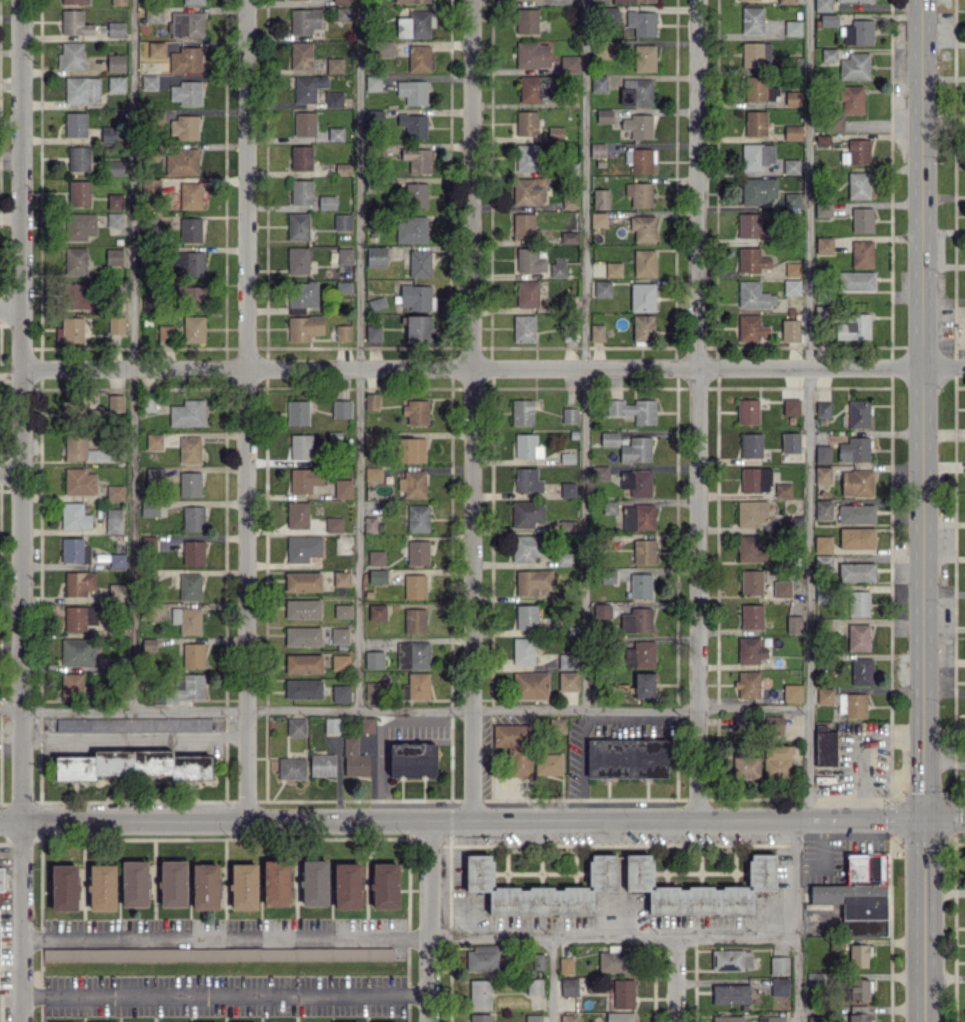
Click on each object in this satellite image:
building: (750, 0)
building: (856, 0)
building: (74, 1)
building: (193, 1)
building: (411, 1)
building: (631, 1)
building: (787, 1)
building: (118, 2)
building: (341, 2)
building: (822, 5)
building: (342, 14)
building: (752, 19)
building: (306, 20)
building: (526, 20)
building: (828, 20)
building: (74, 22)
building: (642, 22)
building: (186, 24)
building: (415, 24)
building: (792, 27)
building: (115, 29)
building: (858, 32)
building: (385, 48)
building: (151, 49)
building: (606, 49)
building: (755, 54)
building: (301, 55)
building: (532, 55)
building: (70, 56)
building: (645, 57)
building: (419, 58)
building: (185, 60)
building: (116, 62)
building: (569, 63)
building: (334, 65)
building: (854, 66)
building: (147, 82)
building: (372, 83)
building: (599, 83)
building: (116, 84)
building: (308, 88)
building: (534, 88)
building: (82, 89)
building: (759, 89)
building: (412, 91)
building: (636, 91)
building: (187, 93)
building: (793, 98)
building: (333, 99)
building: (847, 106)
building: (603, 116)
building: (755, 122)
building: (304, 123)
building: (527, 123)
building: (75, 124)
building: (413, 125)
building: (638, 126)
building: (183, 127)
building: (793, 132)
building: (555, 133)
building: (109, 134)
building: (335, 134)
building: (597, 150)
building: (858, 151)
building: (757, 155)
building: (301, 157)
building: (527, 157)
building: (78, 158)
building: (417, 159)
building: (640, 159)
building: (181, 161)
building: (791, 166)
building: (114, 168)
building: (859, 185)
building: (758, 190)
building: (301, 191)
building: (529, 191)
building: (78, 192)
building: (639, 194)
building: (190, 195)
building: (415, 195)
building: (600, 198)
building: (791, 199)
building: (114, 201)
building: (327, 202)
building: (823, 209)
building: (114, 219)
building: (598, 219)
building: (862, 219)
building: (342, 222)
building: (524, 225)
building: (79, 226)
building: (298, 226)
building: (752, 226)
building: (643, 228)
building: (190, 229)
building: (411, 229)
building: (824, 245)
building: (862, 253)
building: (114, 256)
building: (376, 256)
building: (752, 259)
building: (298, 260)
building: (530, 260)
building: (75, 261)
building: (345, 261)
building: (645, 262)
building: (187, 263)
building: (419, 263)
building: (557, 268)
building: (613, 268)
building: (792, 269)
building: (856, 281)
building: (343, 287)
building: (791, 287)
building: (602, 288)
building: (527, 293)
building: (302, 294)
building: (753, 295)
building: (77, 297)
building: (195, 297)
building: (419, 297)
building: (642, 297)
building: (147, 303)
road: (9, 306)
building: (116, 324)
building: (304, 327)
building: (854, 327)
building: (193, 328)
building: (418, 328)
building: (523, 328)
building: (643, 329)
building: (752, 329)
building: (70, 330)
building: (790, 330)
building: (343, 332)
building: (596, 332)
building: (164, 333)
building: (373, 333)
road: (357, 353)
road: (130, 354)
road: (582, 354)
road: (491, 369)
building: (371, 401)
building: (149, 402)
building: (116, 403)
building: (791, 406)
building: (341, 408)
building: (823, 408)
building: (634, 410)
road: (700, 410)
building: (416, 411)
road: (477, 411)
building: (522, 411)
building: (748, 411)
road: (806, 411)
road: (248, 412)
building: (297, 412)
building: (78, 413)
building: (188, 413)
building: (859, 414)
building: (569, 415)
building: (609, 438)
building: (154, 440)
building: (372, 440)
building: (790, 442)
building: (751, 445)
building: (301, 446)
building: (527, 446)
building: (83, 449)
building: (190, 449)
building: (412, 449)
building: (636, 449)
building: (854, 449)
building: (823, 454)
road: (9, 471)
building: (600, 472)
building: (373, 473)
building: (822, 475)
building: (305, 479)
building: (755, 479)
building: (527, 480)
building: (79, 481)
building: (637, 482)
building: (857, 482)
building: (189, 484)
building: (412, 484)
building: (342, 488)
building: (568, 489)
building: (783, 490)
building: (115, 492)
building: (609, 506)
building: (149, 508)
building: (823, 509)
road: (924, 510)
road: (19, 511)
building: (526, 513)
building: (751, 513)
building: (856, 513)
building: (297, 514)
building: (74, 516)
building: (638, 517)
building: (193, 518)
building: (418, 518)
building: (113, 520)
building: (333, 524)
building: (370, 524)
building: (567, 525)
building: (857, 537)
building: (823, 544)
building: (526, 547)
building: (303, 548)
building: (749, 548)
building: (74, 550)
building: (643, 551)
building: (193, 552)
building: (418, 552)
building: (376, 558)
building: (117, 560)
building: (857, 571)
building: (377, 576)
building: (608, 576)
building: (341, 578)
building: (302, 581)
building: (533, 581)
building: (751, 582)
building: (79, 583)
building: (640, 585)
building: (190, 586)
building: (414, 586)
building: (782, 588)
building: (115, 591)
building: (859, 603)
building: (302, 608)
building: (342, 611)
building: (377, 611)
building: (526, 616)
building: (751, 616)
building: (79, 617)
building: (187, 619)
building: (414, 620)
building: (636, 620)
building: (793, 624)
building: (339, 635)
building: (303, 636)
building: (858, 637)
building: (148, 644)
building: (523, 650)
building: (750, 650)
building: (77, 652)
building: (640, 654)
building: (193, 655)
building: (412, 655)
building: (374, 659)
building: (567, 661)
building: (340, 662)
building: (303, 663)
building: (862, 671)
building: (568, 681)
building: (530, 684)
building: (747, 684)
building: (644, 685)
building: (74, 686)
building: (189, 686)
building: (416, 686)
building: (303, 688)
building: (373, 690)
building: (341, 693)
building: (792, 693)
building: (825, 695)
building: (851, 705)
road: (402, 708)
building: (133, 723)
building: (367, 724)
building: (742, 724)
building: (773, 724)
building: (331, 725)
building: (296, 726)
road: (137, 737)
road: (855, 741)
building: (824, 746)
building: (515, 747)
building: (627, 758)
building: (354, 759)
building: (412, 759)
building: (776, 761)
building: (745, 762)
building: (549, 763)
building: (322, 764)
building: (133, 765)
road: (575, 766)
building: (291, 768)
road: (890, 775)
traffic signals: (926, 821)
road: (482, 823)
building: (1, 879)
building: (314, 882)
building: (134, 883)
building: (173, 883)
building: (276, 883)
building: (385, 885)
building: (205, 886)
building: (243, 886)
building: (347, 886)
building: (64, 887)
building: (102, 887)
building: (700, 888)
building: (540, 889)
building: (859, 895)
road: (431, 922)
road: (794, 922)
road: (406, 937)
building: (217, 954)
building: (859, 956)
building: (483, 958)
building: (731, 959)
building: (614, 960)
building: (537, 961)
building: (565, 965)
building: (779, 965)
road: (675, 979)
building: (815, 979)
road: (545, 980)
building: (534, 986)
building: (779, 986)
building: (569, 987)
building: (859, 989)
building: (623, 993)
building: (730, 993)
road: (224, 994)
building: (480, 994)
building: (859, 1013)
building: (620, 1016)
building: (480, 1018)
building: (534, 1018)
building: (569, 1018)
building: (728, 1018)
building: (772, 1018)
building: (815, 1018)

